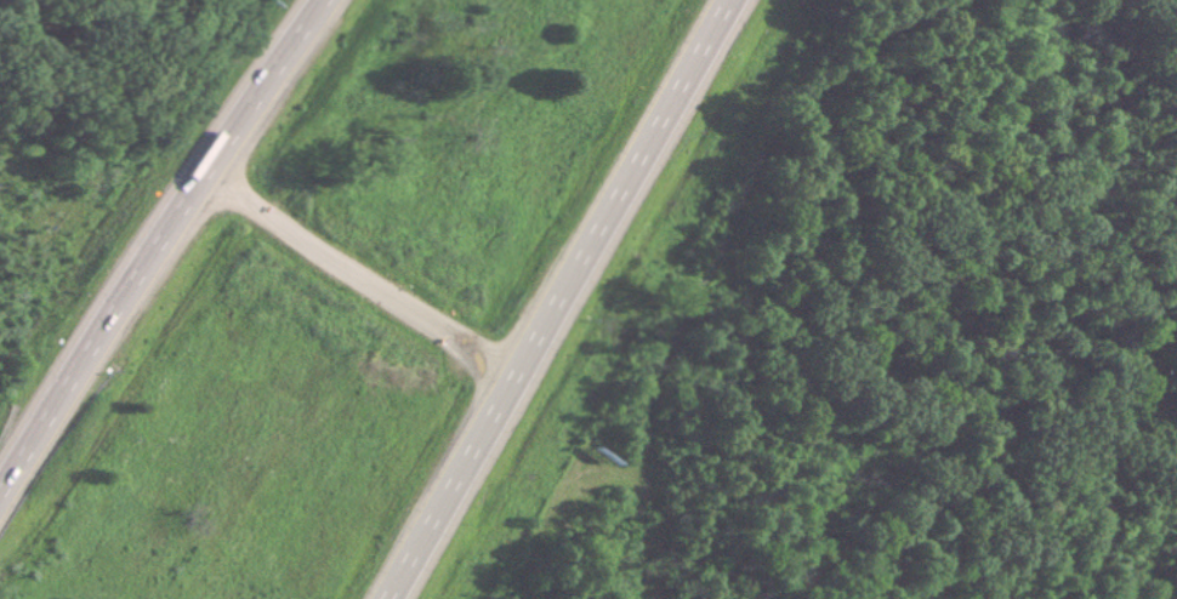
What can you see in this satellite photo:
road: (158, 245)
road: (364, 274)
road: (565, 299)

